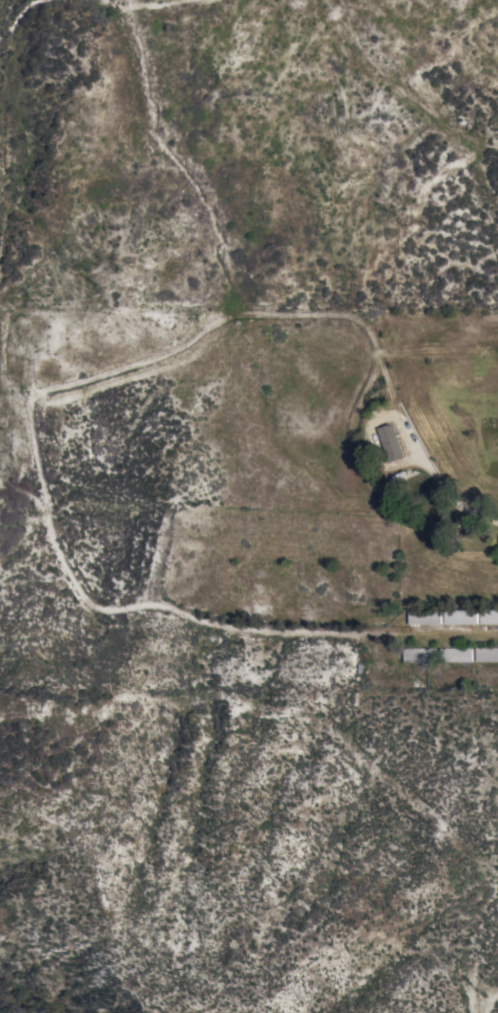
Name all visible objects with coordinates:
building: (393, 443)
road: (430, 465)
building: (462, 617)
building: (490, 617)
building: (426, 618)
building: (421, 655)
building: (457, 655)
building: (487, 655)

